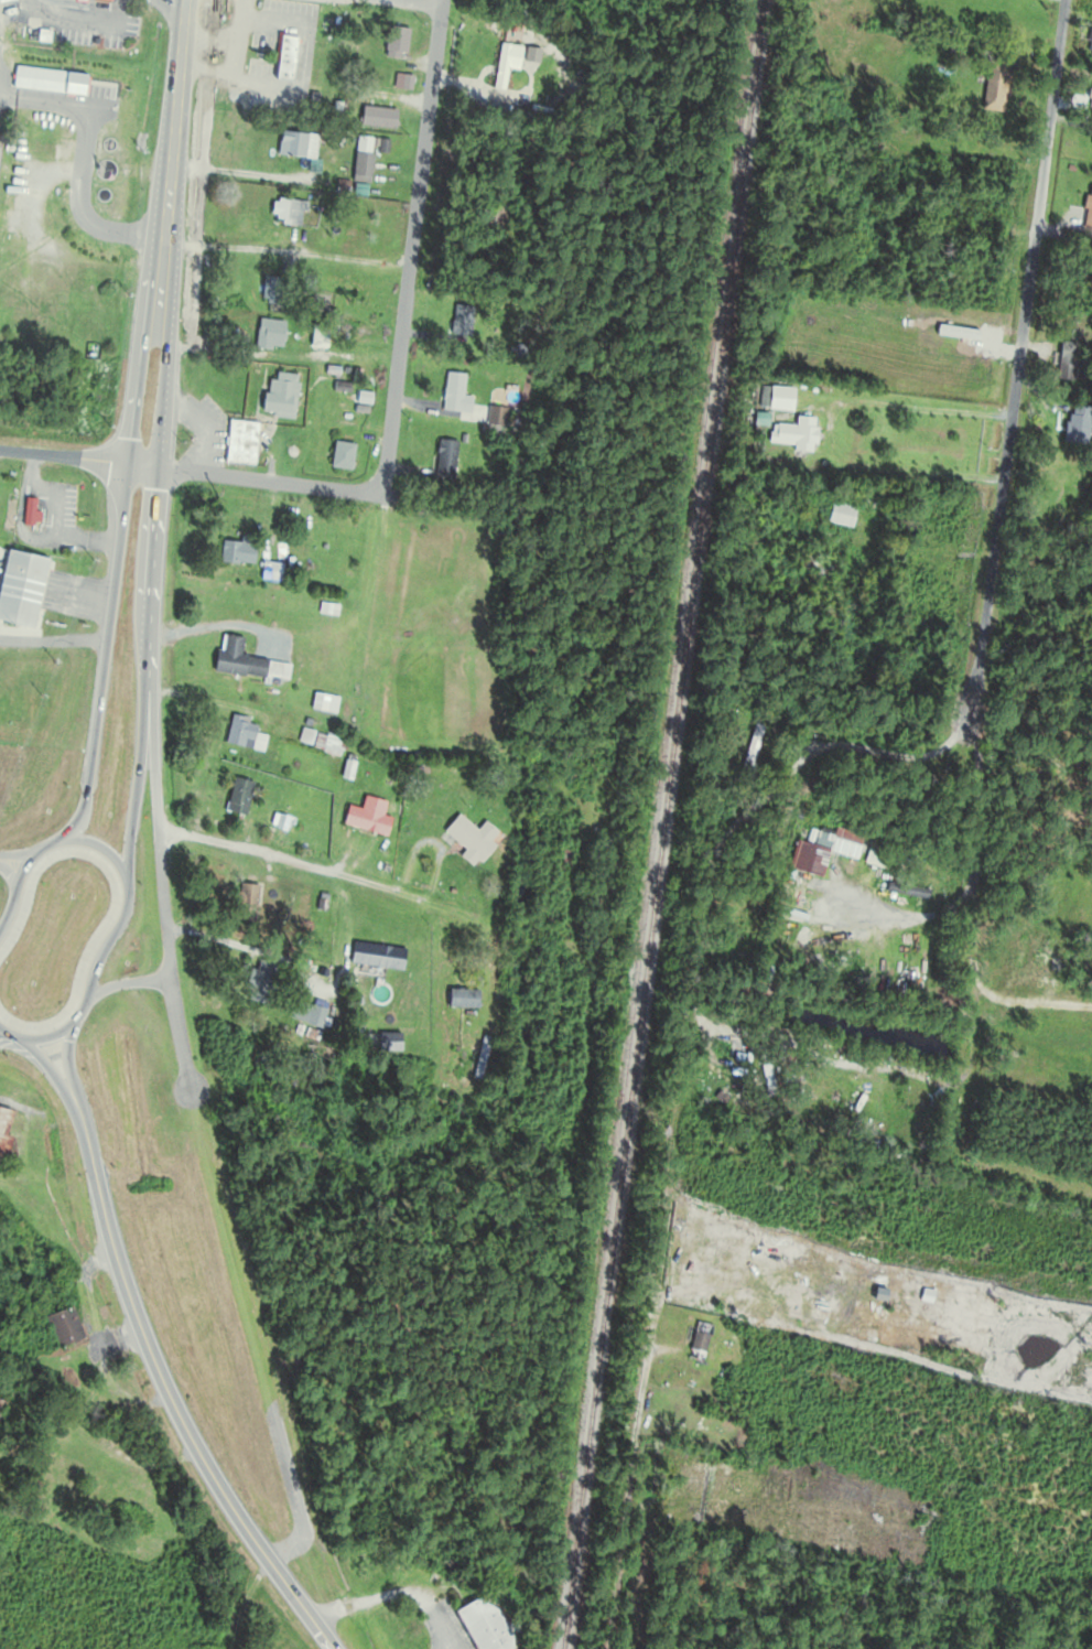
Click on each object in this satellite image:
road: (436, 0)
building: (94, 1)
building: (393, 41)
building: (1090, 41)
building: (283, 58)
building: (497, 68)
building: (517, 78)
building: (404, 84)
building: (994, 87)
building: (375, 118)
building: (293, 145)
road: (79, 158)
road: (170, 159)
building: (360, 160)
railway: (738, 170)
building: (1088, 209)
building: (283, 214)
road: (409, 245)
road: (285, 249)
building: (304, 282)
building: (269, 290)
building: (458, 322)
building: (267, 336)
road: (1016, 376)
building: (278, 396)
building: (453, 396)
building: (775, 398)
road: (830, 423)
building: (1075, 424)
building: (794, 435)
building: (239, 444)
road: (78, 454)
building: (339, 456)
traffic signals: (129, 460)
building: (442, 460)
traffic signals: (158, 464)
road: (270, 477)
building: (29, 513)
building: (840, 515)
building: (235, 553)
building: (269, 573)
road: (113, 579)
building: (20, 588)
road: (149, 595)
road: (365, 596)
road: (210, 623)
building: (244, 664)
building: (322, 703)
building: (242, 735)
building: (326, 745)
building: (749, 747)
railway: (659, 752)
building: (237, 798)
building: (366, 822)
building: (281, 823)
railway: (666, 824)
building: (469, 839)
road: (48, 843)
road: (101, 845)
road: (270, 853)
road: (17, 854)
road: (160, 858)
building: (807, 860)
building: (875, 860)
road: (22, 867)
road: (10, 873)
building: (245, 904)
road: (10, 908)
road: (111, 935)
building: (377, 958)
building: (260, 983)
building: (456, 1001)
road: (83, 1010)
building: (306, 1014)
road: (1, 1028)
road: (1, 1030)
road: (177, 1033)
road: (12, 1035)
road: (50, 1035)
road: (67, 1059)
road: (48, 1068)
building: (3, 1127)
building: (58, 1324)
building: (698, 1341)
road: (167, 1389)
building: (1, 1406)
road: (638, 1425)
road: (393, 1592)
building: (480, 1625)

